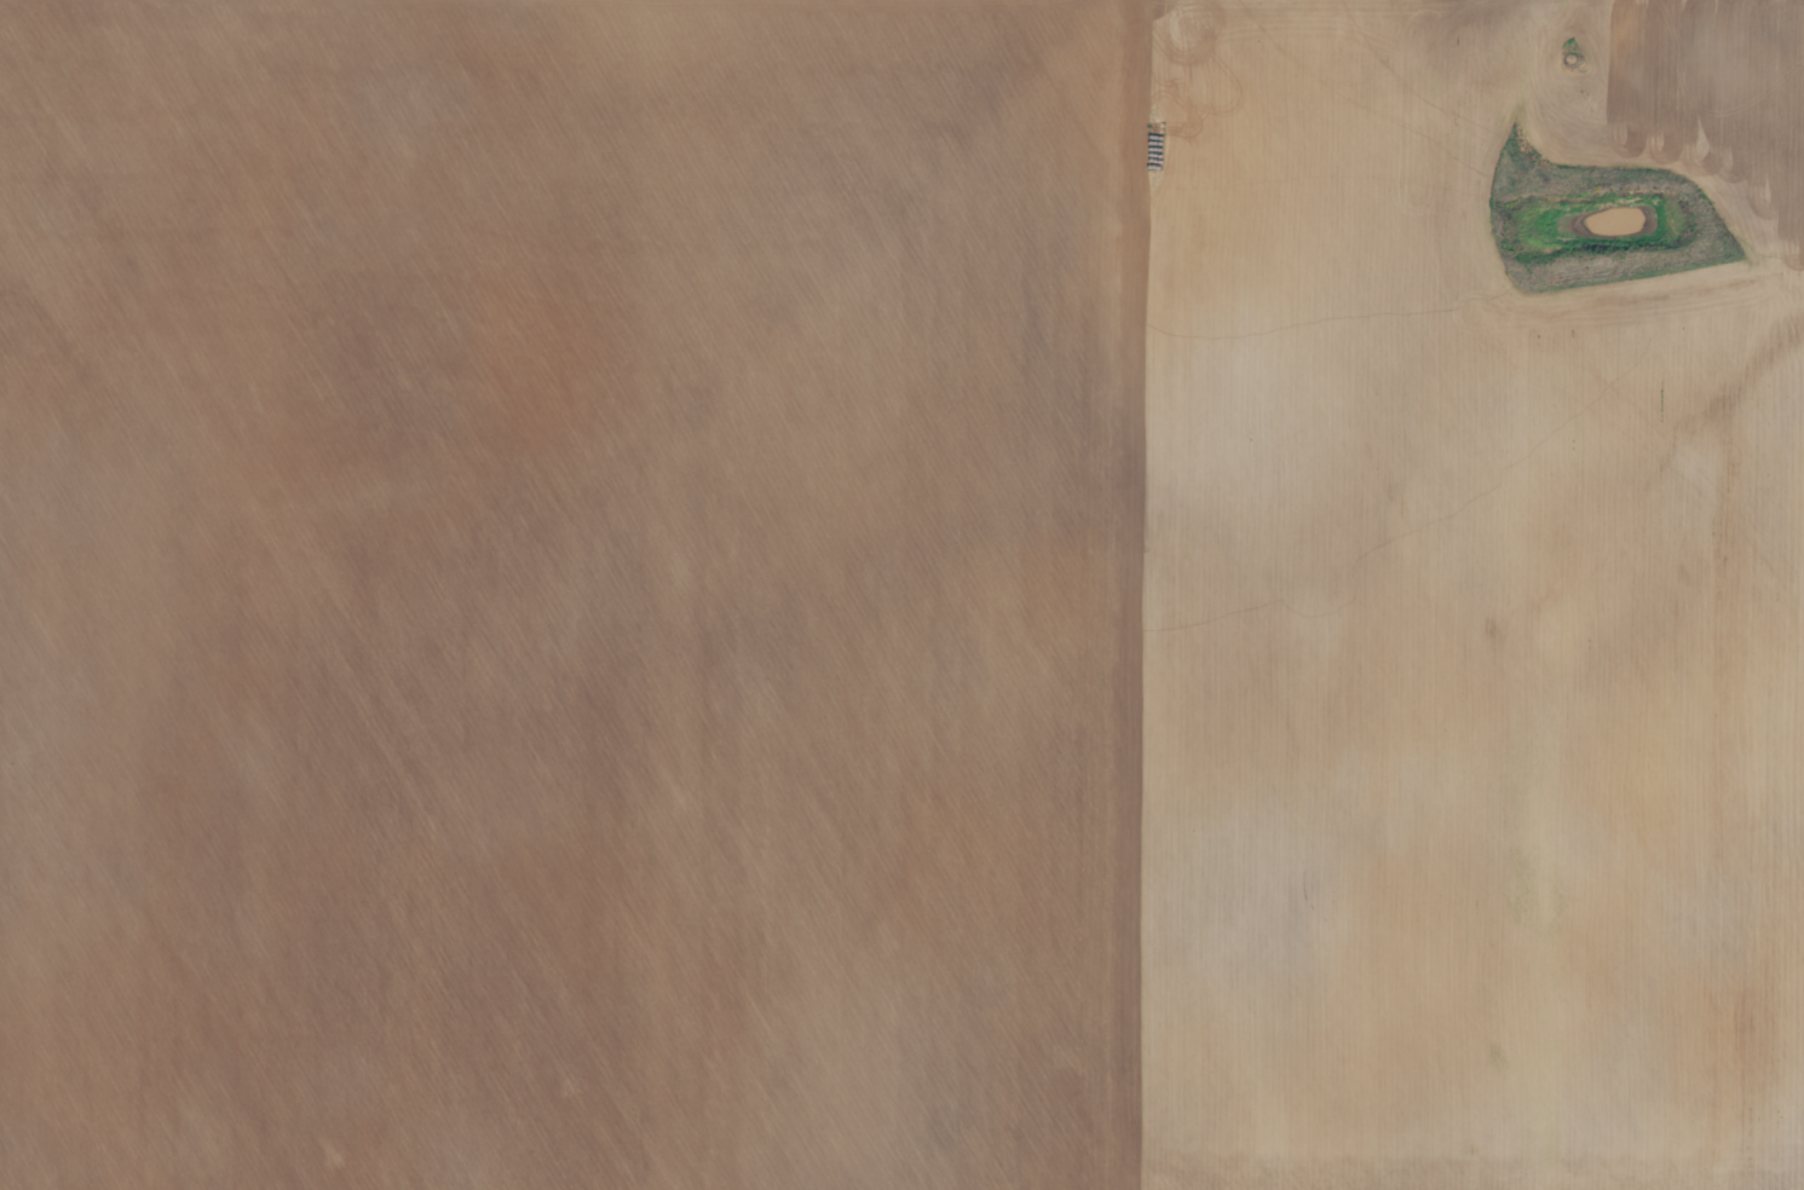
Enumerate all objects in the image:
building: (1595, 16)

